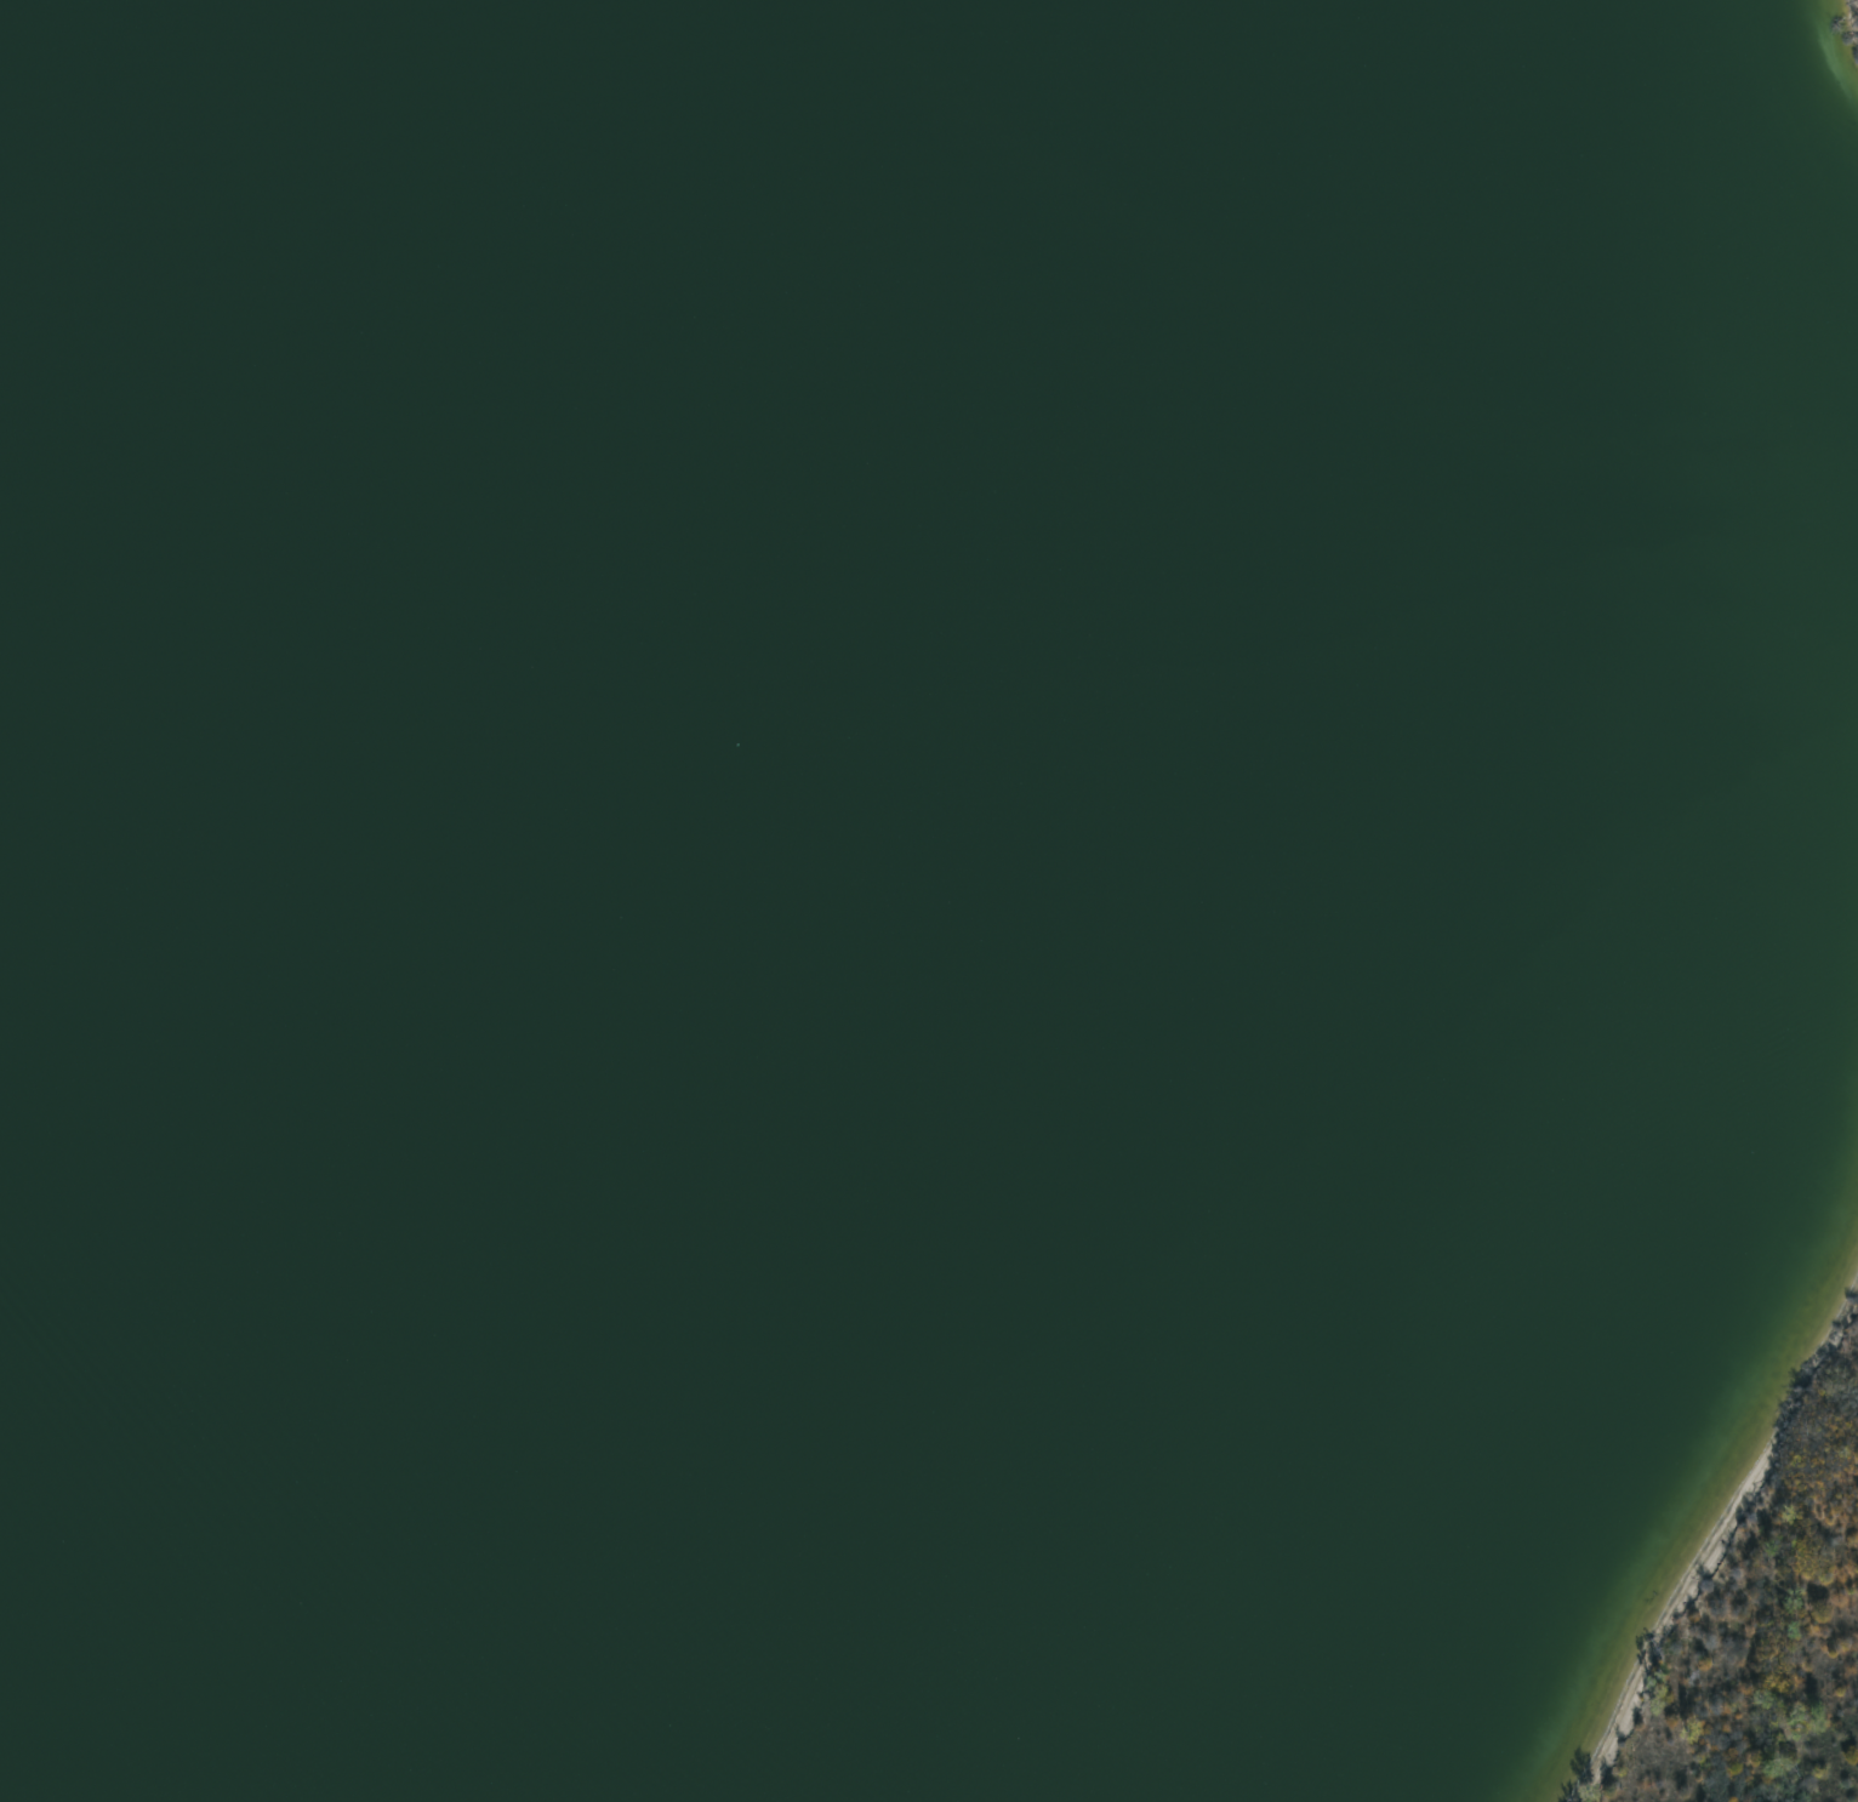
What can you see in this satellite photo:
park: (1847, 50)

